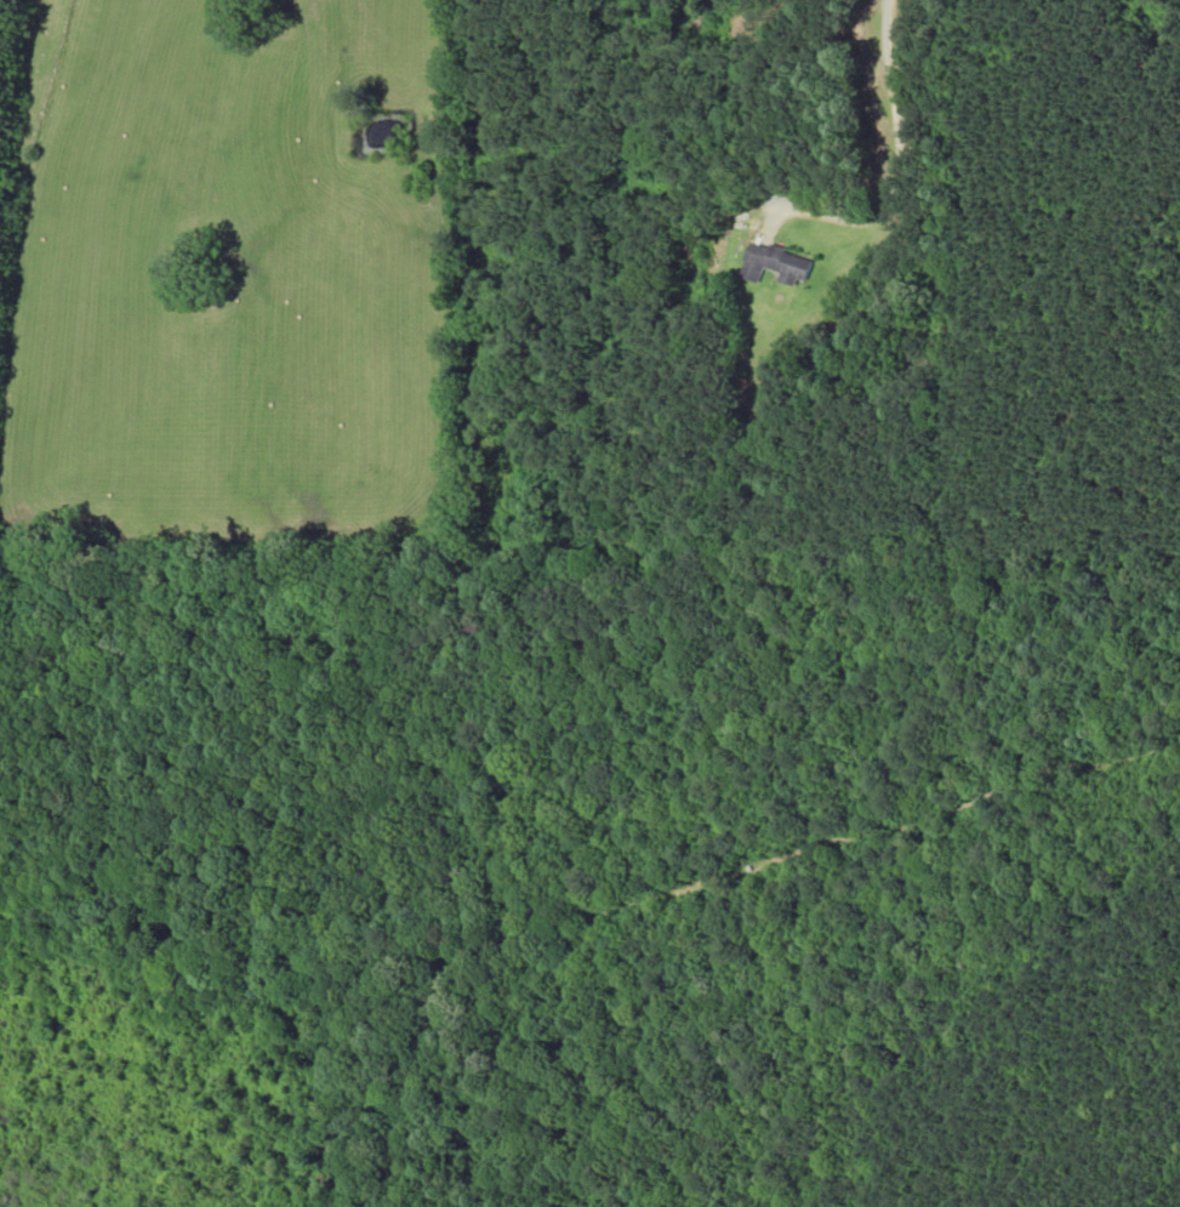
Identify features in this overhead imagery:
road: (1164, 51)
building: (774, 263)
road: (1085, 502)

